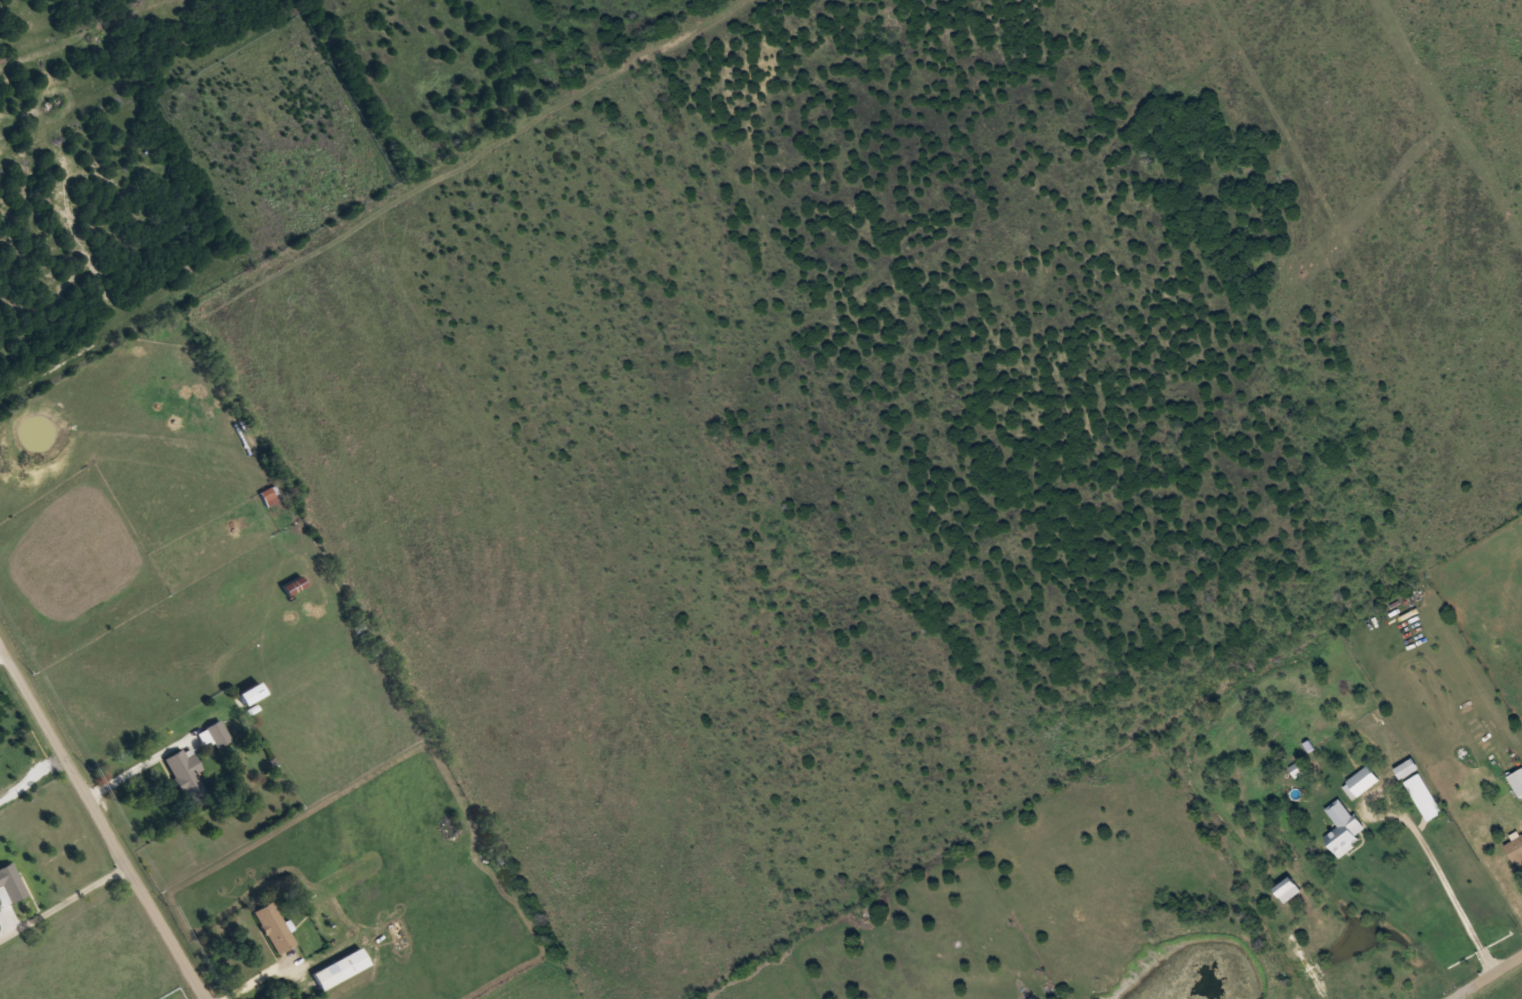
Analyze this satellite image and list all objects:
building: (268, 496)
building: (249, 694)
building: (215, 734)
building: (1299, 770)
building: (186, 773)
building: (1363, 780)
building: (1517, 781)
building: (1423, 796)
road: (102, 821)
building: (1343, 828)
building: (1515, 850)
building: (10, 885)
building: (274, 927)
building: (340, 968)
road: (1485, 976)

